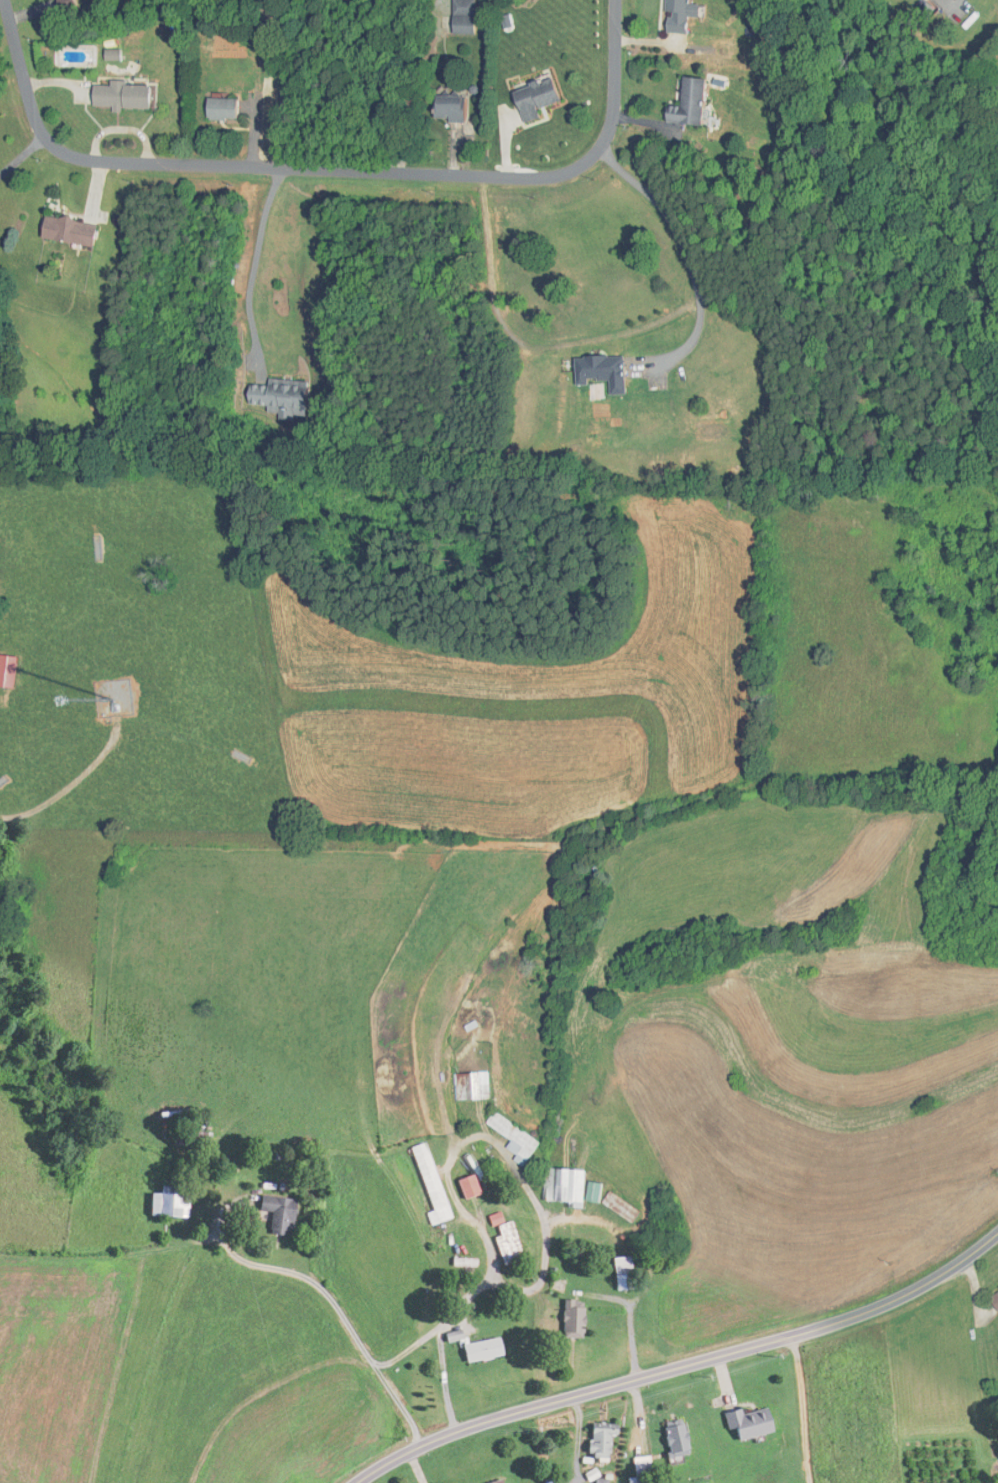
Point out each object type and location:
building: (917, 0)
building: (675, 16)
building: (459, 17)
building: (156, 34)
building: (116, 96)
building: (530, 98)
building: (683, 103)
building: (446, 108)
building: (219, 109)
road: (23, 156)
road: (327, 169)
building: (63, 231)
road: (686, 251)
road: (254, 263)
building: (598, 371)
building: (277, 396)
building: (470, 1085)
building: (187, 1137)
building: (512, 1137)
building: (428, 1183)
building: (563, 1185)
building: (465, 1186)
building: (164, 1201)
building: (619, 1207)
building: (275, 1213)
road: (546, 1232)
building: (505, 1241)
building: (619, 1272)
building: (993, 1298)
road: (339, 1313)
building: (569, 1318)
building: (477, 1349)
road: (680, 1365)
road: (444, 1379)
road: (802, 1408)
building: (747, 1422)
building: (595, 1438)
building: (670, 1438)
building: (637, 1470)
building: (597, 1480)
building: (493, 1482)

